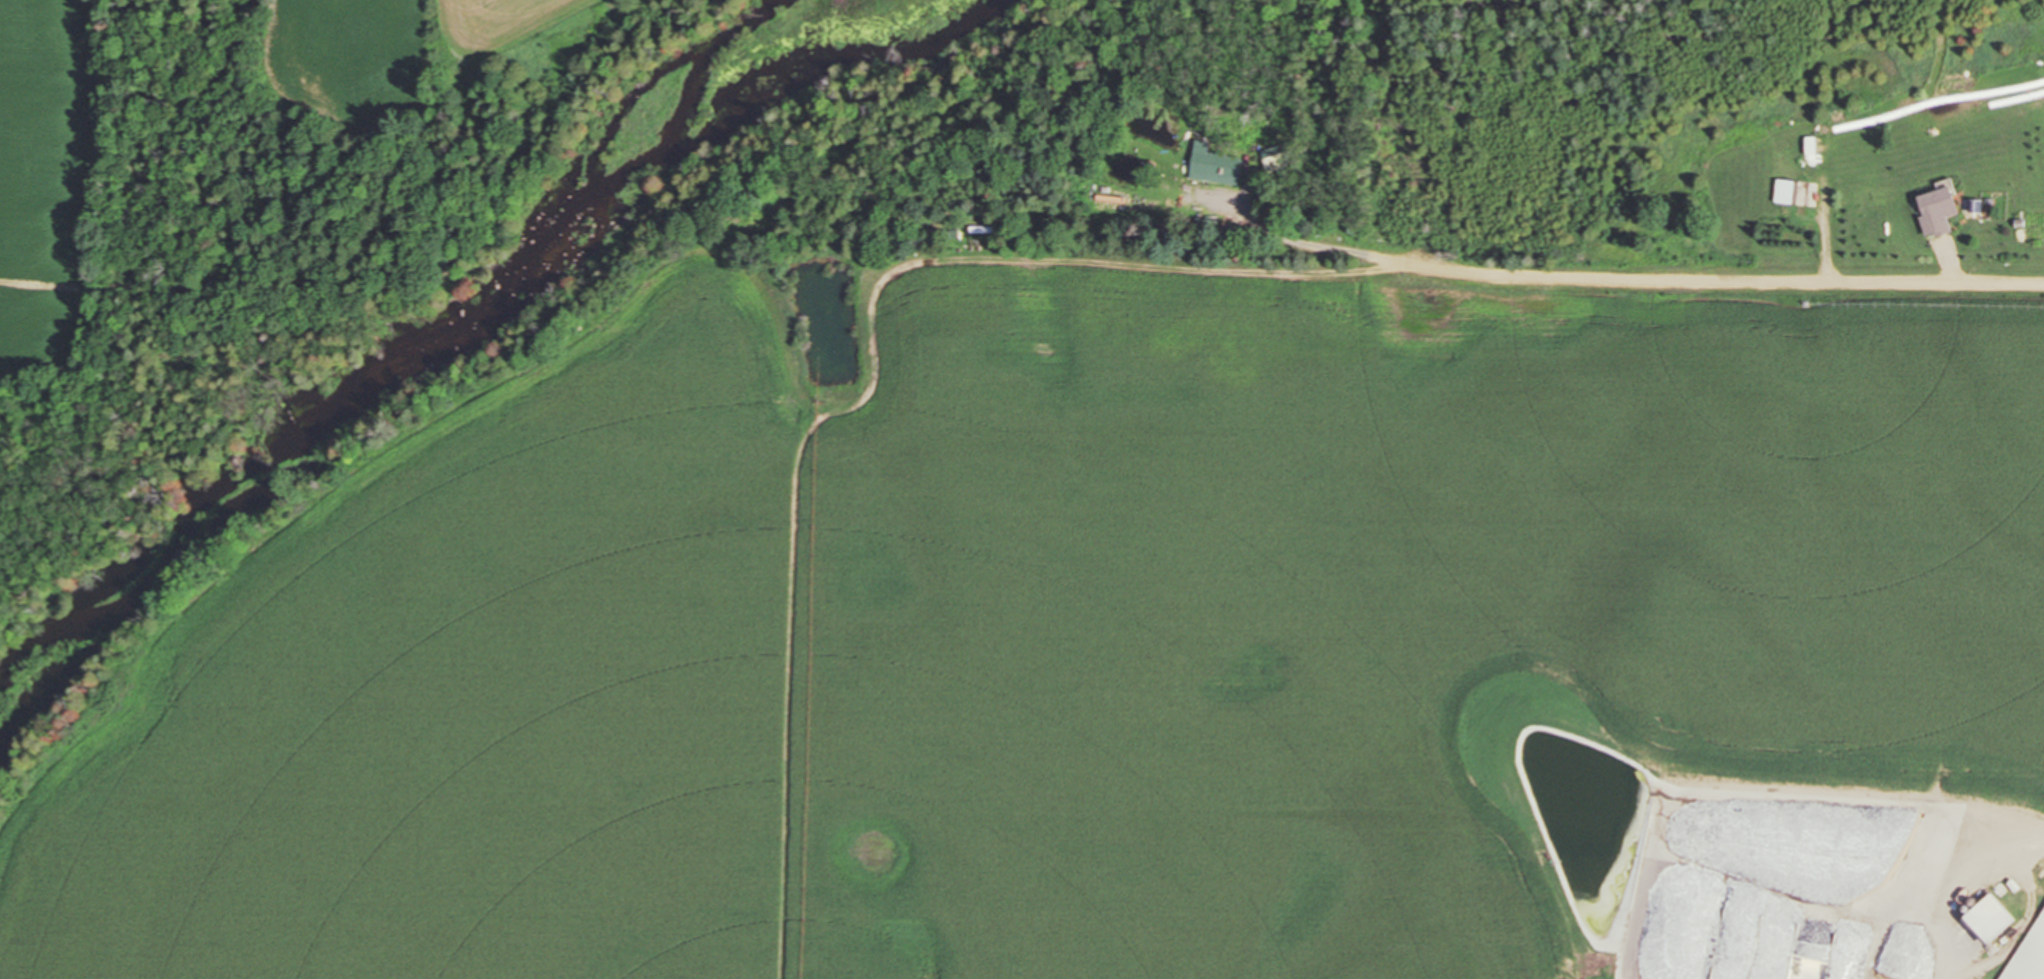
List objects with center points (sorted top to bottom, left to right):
building: (1213, 166)
building: (1782, 191)
building: (1934, 208)
road: (1709, 282)
river: (404, 361)

